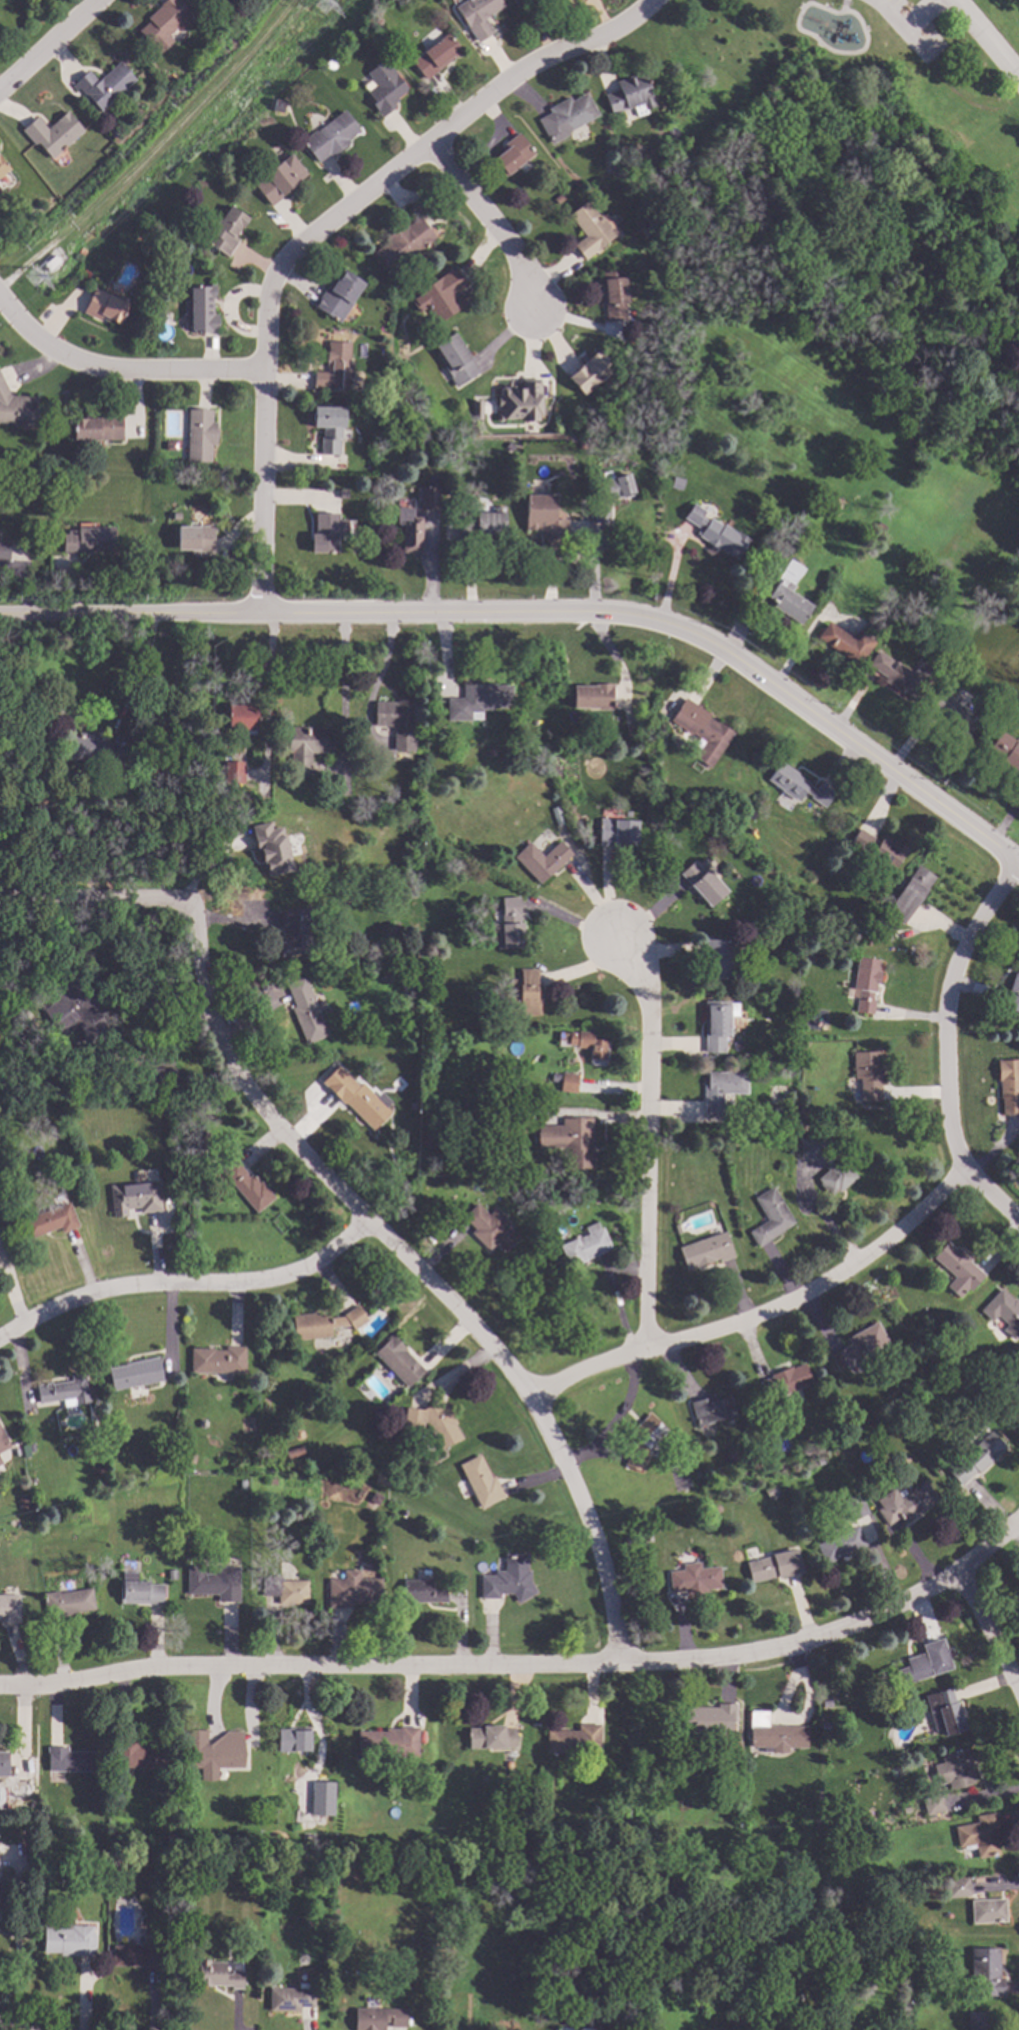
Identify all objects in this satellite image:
building: (27, 0)
building: (536, 1)
building: (203, 2)
power tower: (320, 4)
building: (477, 16)
building: (376, 22)
park: (999, 22)
building: (165, 23)
road: (901, 32)
road: (50, 42)
road: (984, 42)
building: (435, 55)
building: (328, 64)
building: (103, 85)
building: (384, 87)
building: (629, 93)
building: (278, 105)
building: (565, 117)
road: (460, 127)
building: (51, 133)
building: (330, 136)
building: (511, 154)
building: (611, 165)
building: (2, 167)
building: (278, 179)
park: (849, 181)
building: (557, 197)
road: (494, 226)
building: (589, 229)
building: (225, 230)
building: (403, 243)
power tower: (28, 277)
building: (394, 281)
building: (909, 284)
building: (339, 294)
building: (441, 294)
building: (613, 294)
building: (651, 297)
building: (103, 306)
building: (200, 308)
building: (456, 360)
road: (117, 367)
building: (335, 367)
building: (590, 371)
building: (519, 402)
building: (16, 408)
building: (328, 426)
building: (97, 427)
building: (199, 435)
road: (261, 439)
building: (582, 443)
building: (618, 486)
building: (342, 493)
building: (447, 495)
building: (429, 497)
building: (602, 513)
building: (543, 516)
building: (483, 523)
building: (878, 527)
building: (409, 529)
building: (709, 529)
building: (328, 532)
building: (195, 538)
building: (88, 539)
building: (4, 550)
building: (937, 574)
building: (788, 597)
road: (326, 609)
building: (849, 640)
building: (902, 675)
road: (267, 690)
building: (592, 695)
building: (477, 700)
building: (635, 711)
building: (952, 712)
road: (122, 713)
building: (241, 717)
building: (517, 718)
building: (398, 722)
road: (835, 725)
building: (16, 728)
building: (628, 728)
building: (659, 730)
building: (701, 730)
building: (426, 739)
building: (305, 746)
building: (619, 749)
building: (94, 750)
building: (1006, 750)
building: (491, 752)
building: (233, 772)
building: (796, 784)
building: (1, 798)
building: (557, 814)
building: (617, 832)
building: (284, 845)
building: (878, 849)
building: (541, 860)
building: (702, 883)
building: (909, 896)
road: (93, 905)
building: (509, 924)
building: (883, 930)
building: (296, 932)
building: (717, 957)
building: (865, 983)
building: (1013, 992)
building: (523, 994)
building: (74, 1008)
building: (305, 1010)
building: (717, 1023)
road: (932, 1033)
building: (775, 1036)
road: (151, 1043)
building: (587, 1043)
building: (867, 1074)
building: (554, 1076)
building: (0, 1077)
building: (159, 1078)
building: (567, 1081)
building: (1008, 1084)
building: (554, 1086)
building: (720, 1089)
building: (362, 1102)
building: (413, 1105)
building: (803, 1112)
building: (778, 1114)
building: (801, 1127)
building: (569, 1140)
road: (649, 1145)
building: (1017, 1147)
building: (811, 1148)
building: (120, 1154)
building: (835, 1176)
building: (247, 1186)
building: (484, 1186)
building: (605, 1187)
building: (210, 1192)
building: (134, 1197)
building: (769, 1217)
building: (49, 1221)
building: (490, 1227)
building: (676, 1227)
building: (584, 1245)
building: (704, 1250)
building: (957, 1269)
road: (414, 1275)
road: (187, 1290)
building: (383, 1306)
building: (1003, 1312)
road: (769, 1313)
building: (324, 1323)
building: (859, 1346)
building: (217, 1360)
building: (398, 1360)
building: (134, 1373)
building: (785, 1382)
building: (64, 1390)
building: (710, 1409)
building: (291, 1410)
building: (201, 1422)
building: (434, 1422)
building: (857, 1423)
building: (3, 1441)
building: (641, 1442)
building: (29, 1446)
building: (294, 1451)
building: (972, 1458)
building: (256, 1461)
building: (0, 1462)
building: (756, 1463)
building: (382, 1480)
building: (272, 1481)
building: (480, 1481)
building: (242, 1484)
building: (770, 1492)
building: (375, 1498)
building: (23, 1502)
building: (904, 1503)
building: (854, 1506)
building: (833, 1512)
building: (839, 1544)
building: (773, 1565)
building: (171, 1574)
building: (508, 1579)
building: (694, 1579)
building: (213, 1582)
building: (138, 1590)
building: (285, 1590)
building: (353, 1590)
building: (421, 1592)
building: (66, 1602)
building: (9, 1608)
road: (990, 1637)
road: (526, 1661)
building: (924, 1664)
building: (824, 1703)
building: (945, 1710)
building: (708, 1719)
building: (824, 1725)
building: (773, 1734)
building: (491, 1737)
building: (293, 1739)
building: (574, 1739)
building: (388, 1741)
building: (213, 1750)
building: (137, 1755)
building: (69, 1760)
building: (4, 1764)
building: (508, 1764)
building: (953, 1769)
building: (305, 1770)
building: (242, 1795)
building: (321, 1799)
building: (932, 1804)
building: (905, 1810)
building: (786, 1820)
building: (920, 1833)
building: (979, 1834)
building: (166, 1878)
building: (957, 1887)
building: (0, 1890)
building: (987, 1910)
building: (69, 1938)
building: (330, 1940)
road: (16, 1946)
building: (140, 1955)
building: (680, 1958)
building: (326, 1960)
building: (985, 1971)
building: (216, 1974)
building: (511, 1977)
building: (290, 1998)
building: (378, 2018)
road: (38, 2019)
building: (977, 2021)
building: (624, 2027)

